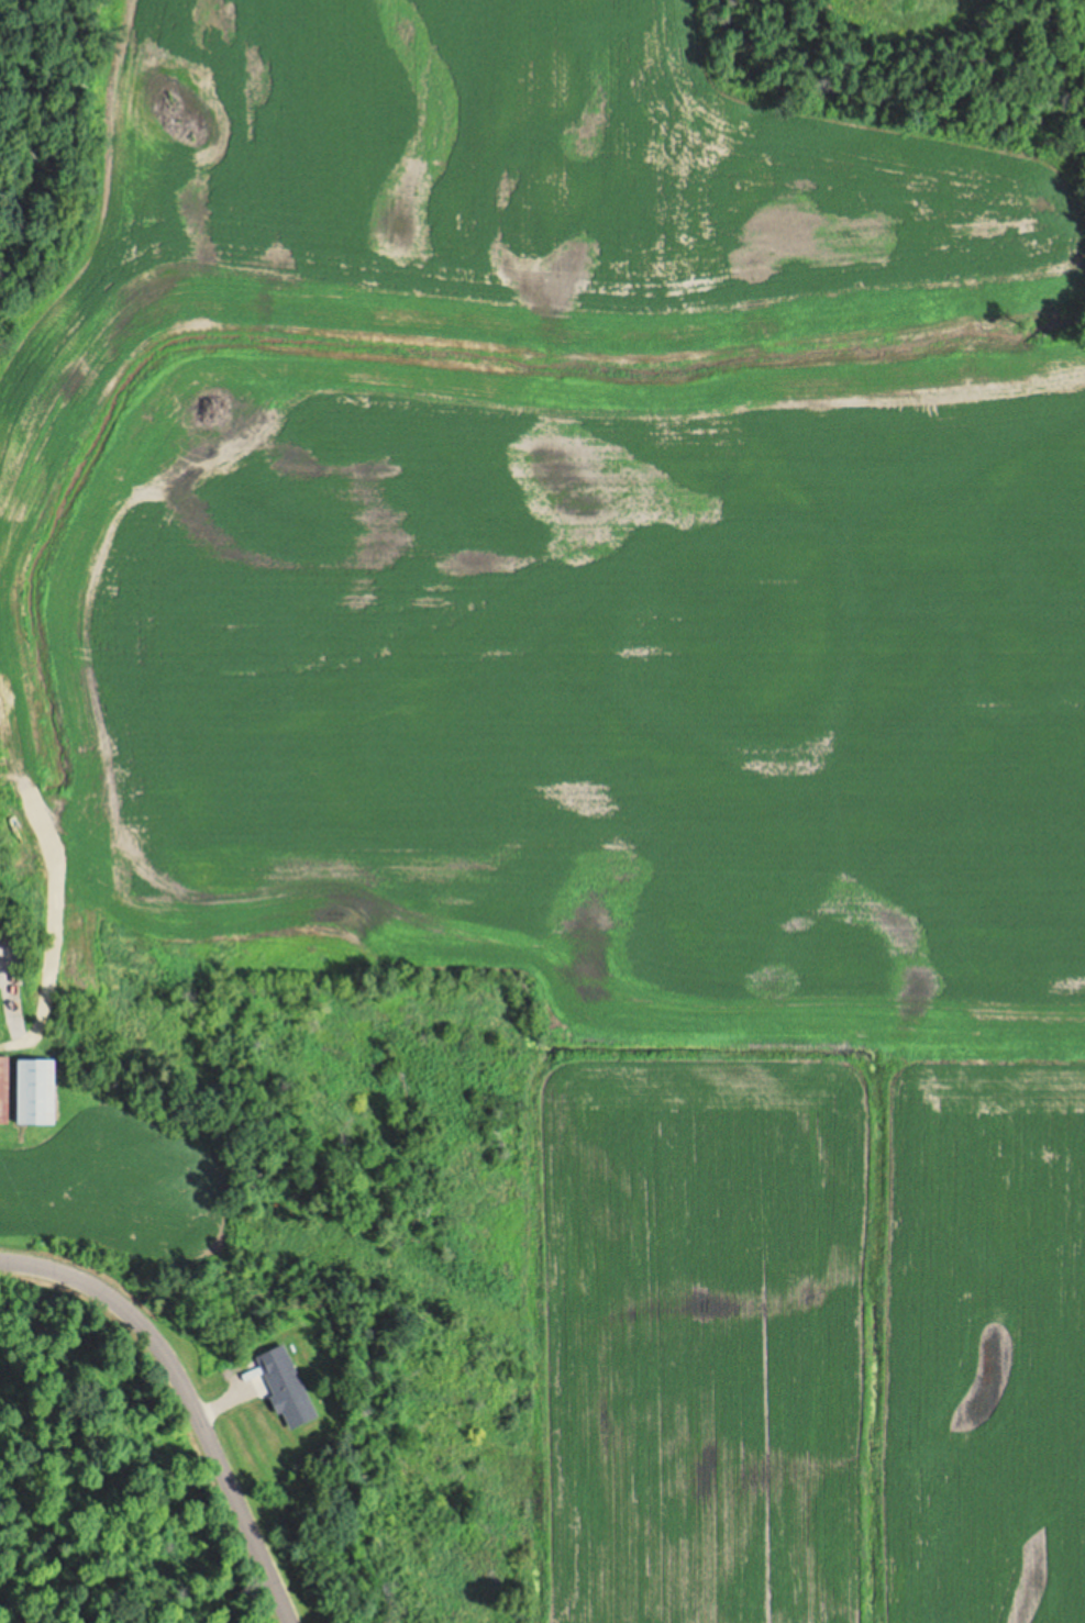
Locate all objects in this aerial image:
building: (3, 1089)
building: (32, 1090)
building: (288, 1396)
road: (188, 1398)

